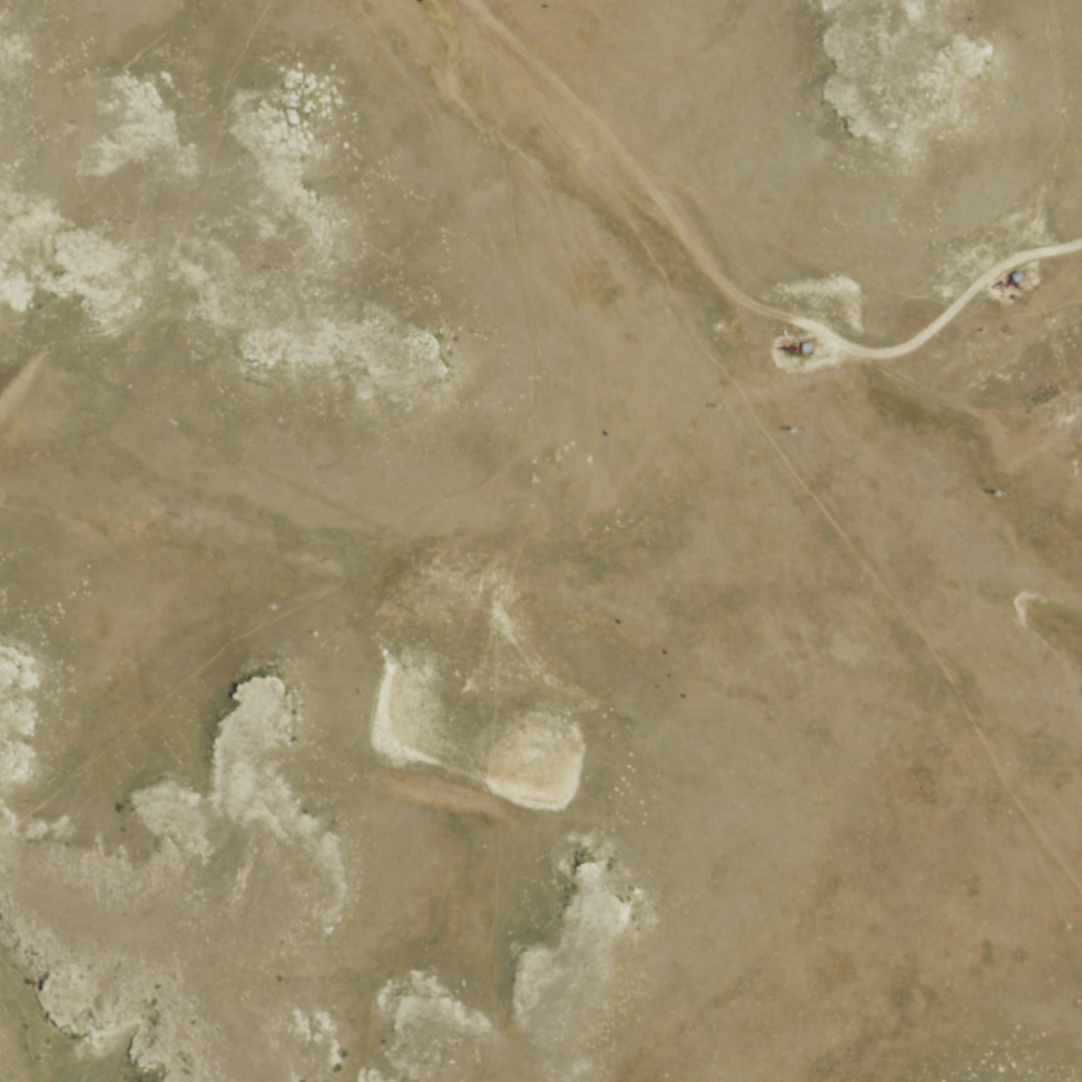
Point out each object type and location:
road: (971, 293)
dam: (18, 364)
road: (780, 367)

